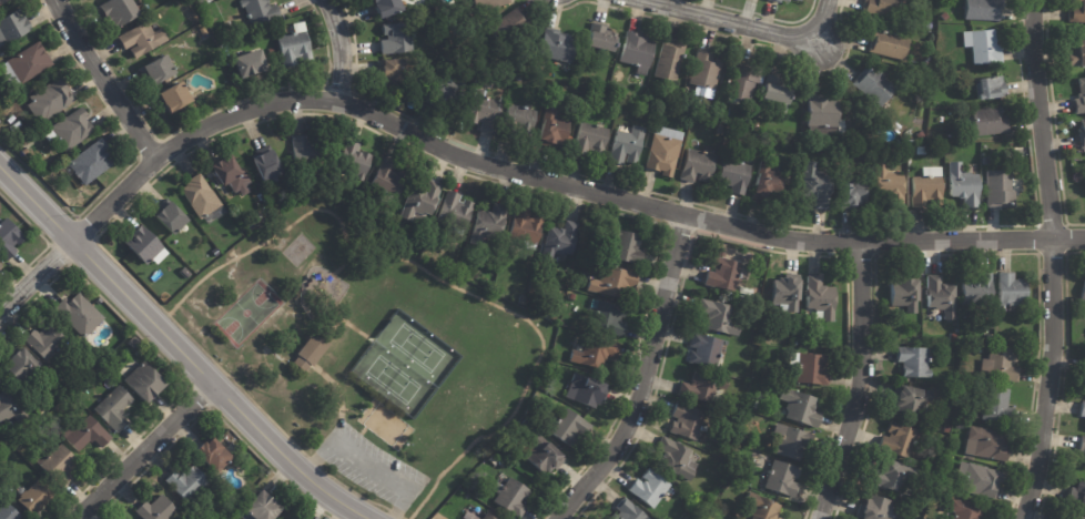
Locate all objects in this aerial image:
building: (779, 0)
building: (792, 1)
building: (4, 2)
building: (487, 3)
building: (383, 6)
building: (883, 8)
building: (983, 9)
building: (1076, 11)
building: (121, 12)
building: (261, 12)
building: (945, 14)
building: (509, 26)
road: (758, 26)
building: (14, 27)
building: (396, 35)
building: (601, 38)
building: (144, 40)
building: (182, 41)
building: (889, 41)
road: (346, 44)
building: (557, 44)
building: (982, 45)
building: (296, 47)
building: (637, 50)
building: (1077, 52)
building: (4, 54)
building: (584, 57)
building: (668, 59)
building: (448, 60)
building: (28, 65)
building: (253, 65)
building: (704, 68)
building: (159, 70)
building: (389, 71)
road: (103, 79)
building: (741, 80)
building: (872, 84)
building: (987, 86)
building: (616, 88)
building: (443, 91)
building: (773, 92)
building: (1079, 96)
building: (176, 98)
building: (53, 100)
building: (404, 106)
building: (485, 111)
building: (659, 111)
building: (824, 114)
building: (518, 116)
road: (1043, 118)
building: (987, 120)
building: (757, 125)
building: (20, 126)
building: (551, 128)
building: (719, 128)
building: (73, 130)
building: (1082, 133)
building: (921, 135)
building: (757, 136)
building: (568, 139)
building: (591, 139)
building: (854, 139)
building: (626, 144)
building: (663, 149)
building: (920, 150)
building: (28, 152)
building: (308, 152)
building: (947, 153)
building: (942, 154)
building: (801, 157)
building: (985, 159)
building: (356, 162)
building: (92, 163)
building: (270, 165)
building: (697, 165)
building: (230, 170)
building: (734, 171)
road: (552, 177)
building: (389, 181)
building: (765, 182)
building: (818, 183)
building: (963, 183)
building: (888, 185)
building: (852, 187)
building: (926, 187)
building: (998, 187)
building: (93, 189)
building: (202, 196)
building: (423, 200)
building: (457, 211)
building: (173, 217)
building: (424, 221)
building: (490, 224)
building: (527, 228)
building: (9, 238)
building: (562, 242)
building: (146, 244)
building: (630, 247)
building: (720, 251)
building: (1, 264)
road: (38, 273)
building: (185, 273)
building: (724, 273)
building: (615, 282)
building: (493, 288)
building: (977, 288)
building: (905, 291)
building: (1011, 291)
building: (783, 292)
building: (1083, 293)
building: (941, 295)
building: (576, 297)
building: (819, 297)
building: (524, 301)
park: (245, 311)
building: (809, 311)
building: (82, 314)
building: (554, 316)
building: (717, 316)
building: (608, 318)
building: (953, 337)
building: (988, 337)
building: (48, 339)
building: (121, 339)
building: (136, 342)
building: (793, 342)
road: (175, 346)
building: (704, 349)
building: (314, 352)
building: (596, 354)
building: (746, 354)
building: (95, 359)
park: (363, 360)
building: (913, 360)
park: (400, 362)
building: (22, 363)
building: (1001, 364)
building: (809, 367)
road: (639, 376)
road: (1055, 378)
building: (148, 381)
building: (983, 383)
road: (860, 384)
building: (701, 387)
building: (588, 391)
building: (911, 399)
building: (997, 405)
building: (11, 407)
building: (116, 408)
building: (801, 408)
building: (1082, 408)
building: (687, 421)
building: (1084, 424)
building: (529, 425)
building: (570, 427)
building: (88, 434)
building: (896, 439)
building: (790, 441)
building: (986, 444)
building: (1082, 445)
road: (145, 452)
building: (546, 455)
building: (215, 456)
road: (364, 459)
building: (677, 459)
building: (60, 464)
building: (1084, 464)
parking lot: (371, 469)
building: (890, 475)
building: (781, 478)
building: (978, 479)
building: (190, 481)
building: (650, 489)
building: (1077, 493)
building: (36, 496)
building: (514, 497)
building: (265, 506)
building: (761, 507)
building: (878, 508)
building: (159, 509)
building: (964, 509)
building: (626, 511)
building: (11, 512)
building: (488, 517)
building: (1073, 517)
building: (286, 518)
building: (474, 518)

